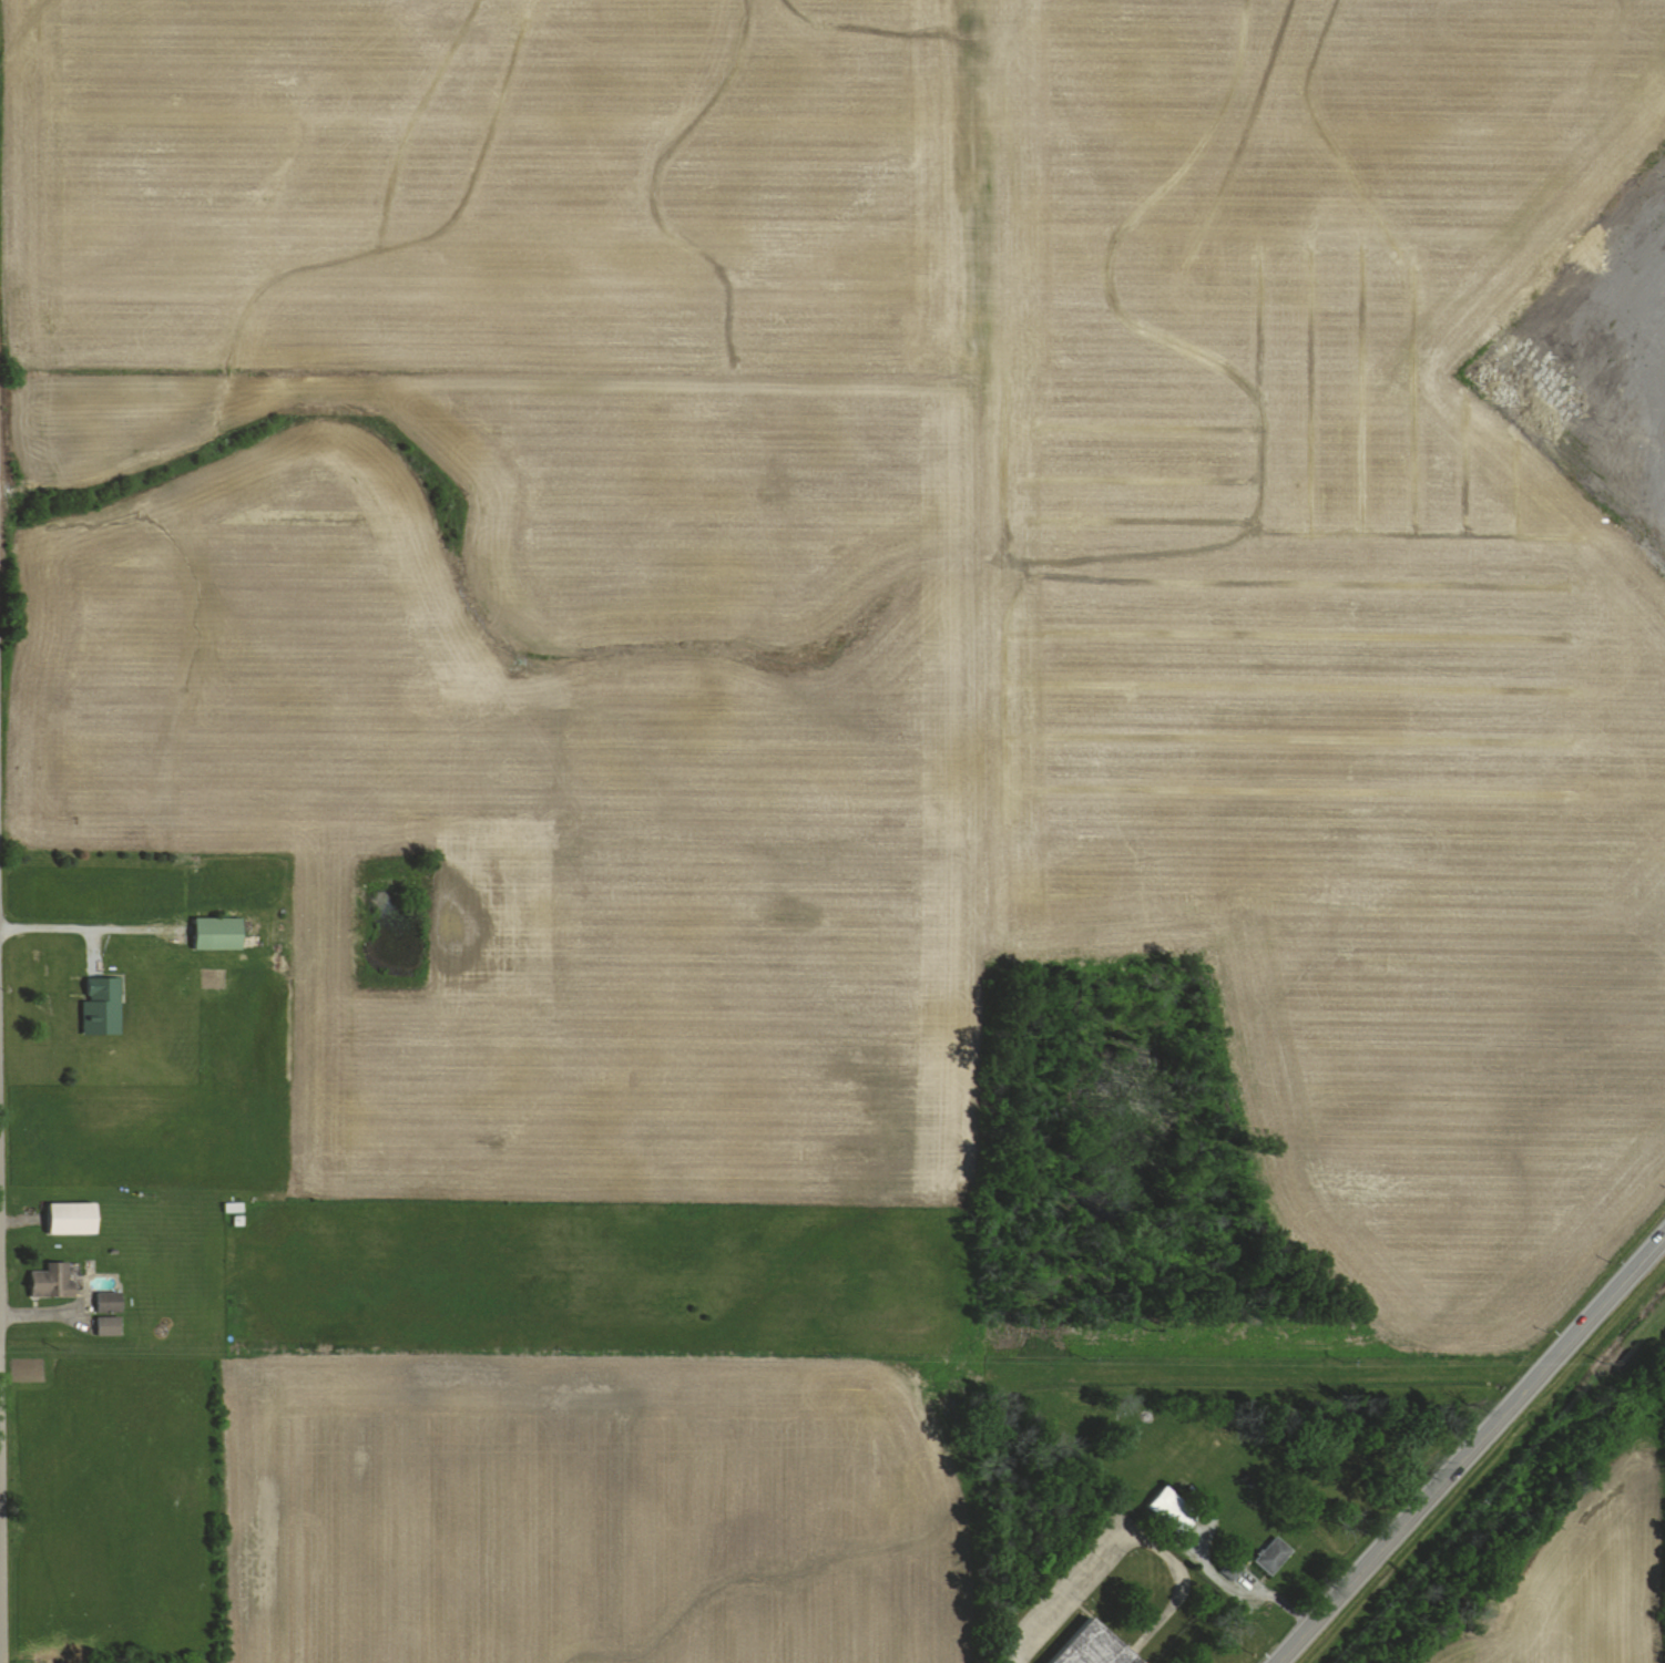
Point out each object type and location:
road: (60, 927)
building: (222, 933)
building: (105, 1006)
building: (78, 1218)
building: (57, 1280)
building: (113, 1302)
building: (112, 1325)
road: (1470, 1449)
building: (1177, 1510)
building: (1276, 1556)
building: (1236, 1568)
building: (1100, 1646)

